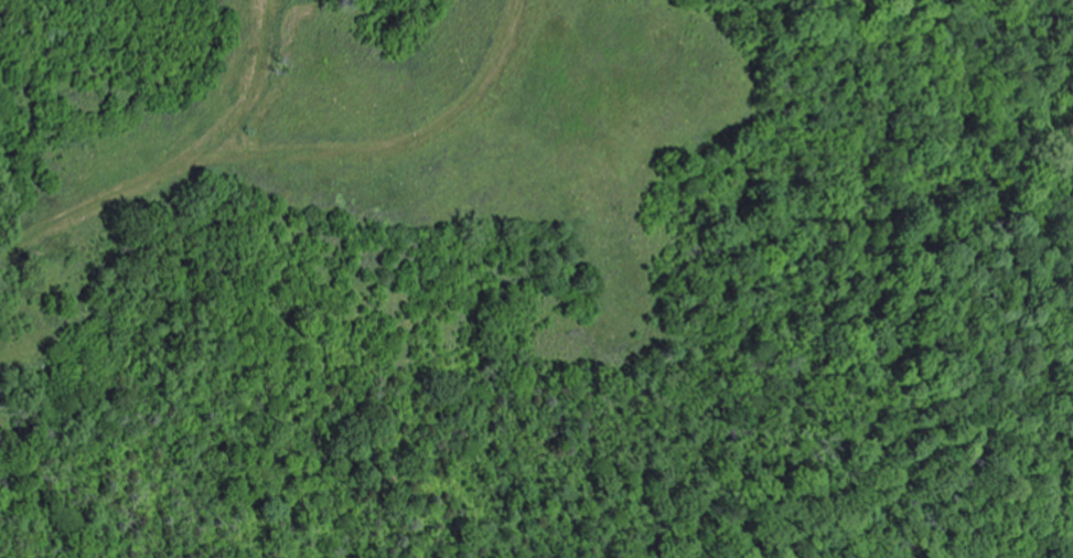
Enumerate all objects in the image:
road: (387, 148)
road: (89, 207)

